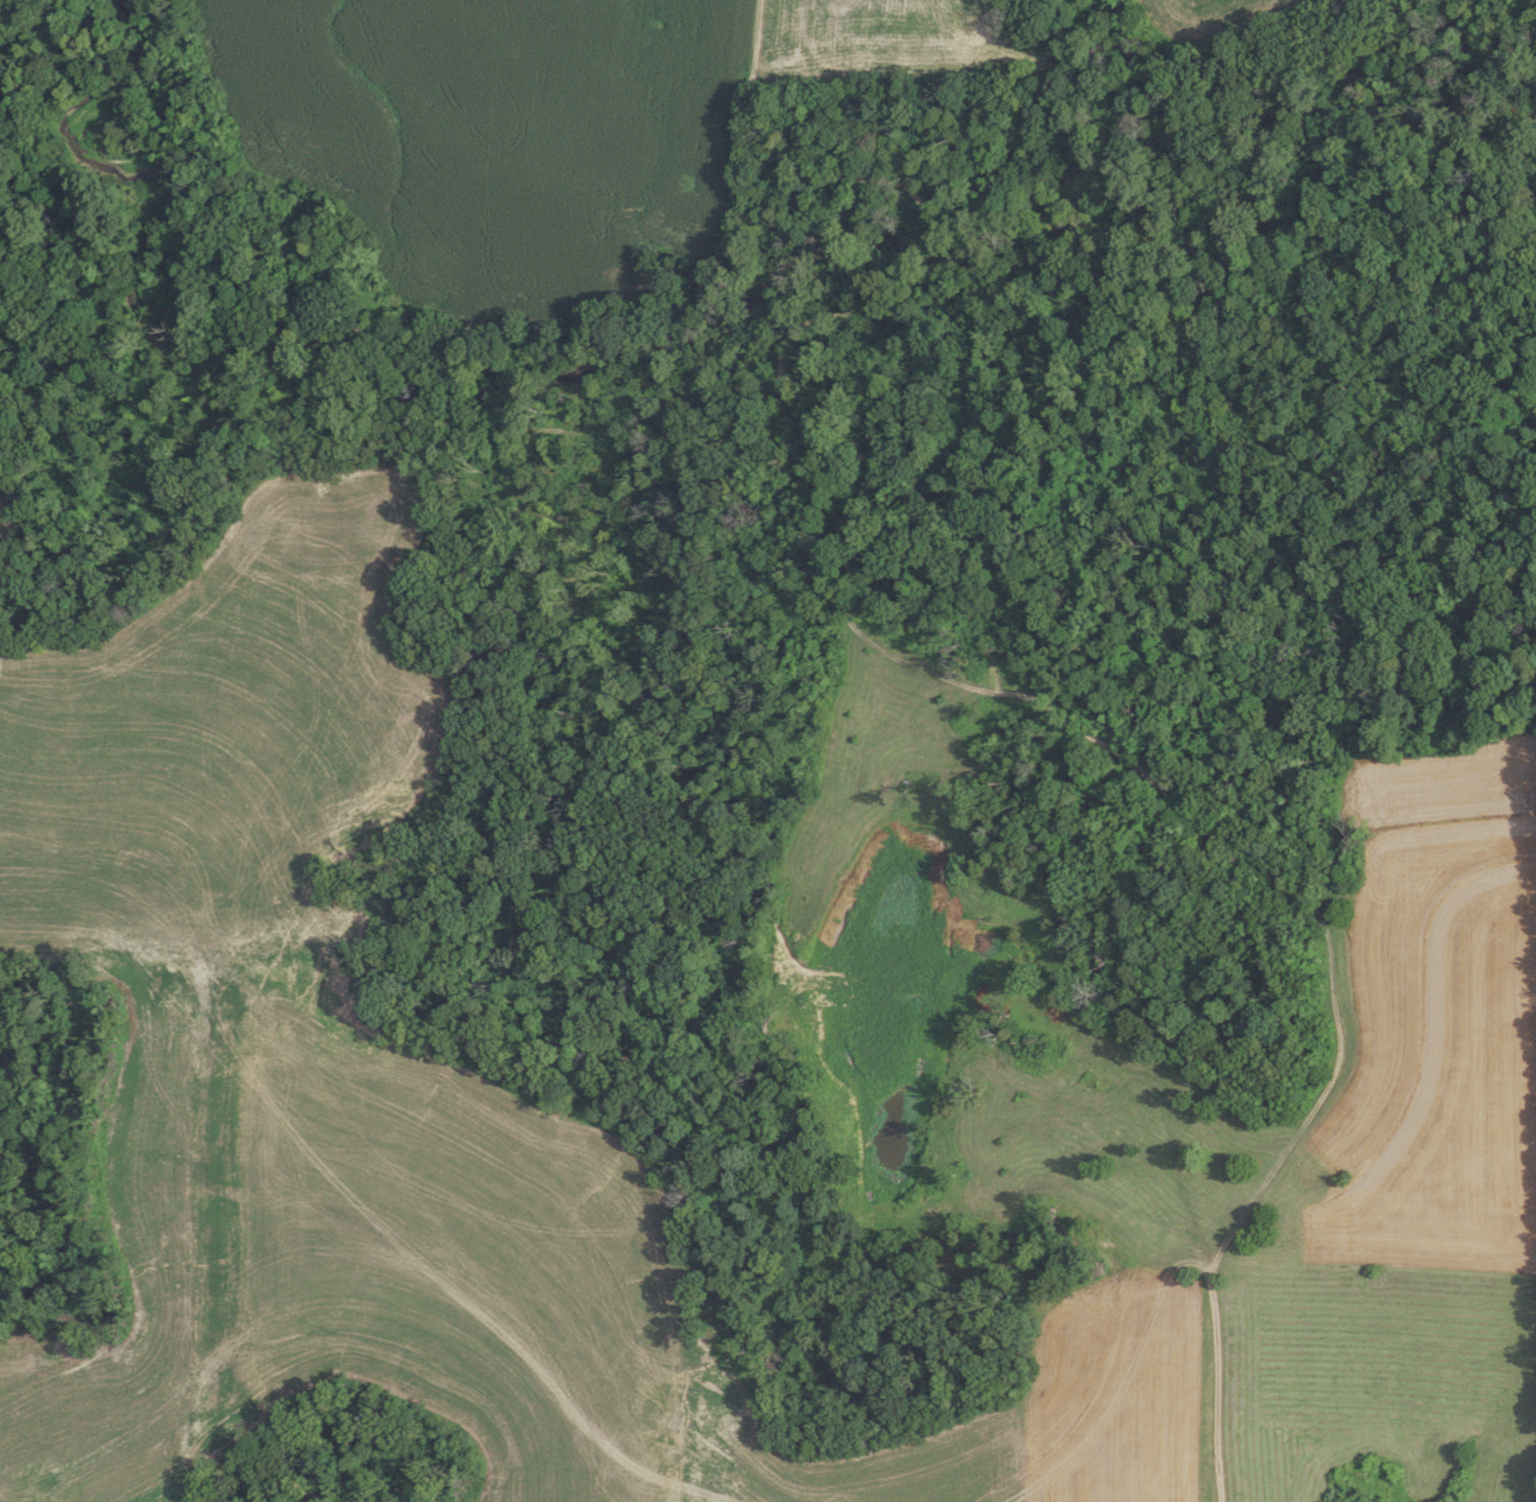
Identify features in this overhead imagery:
road: (1253, 1195)

